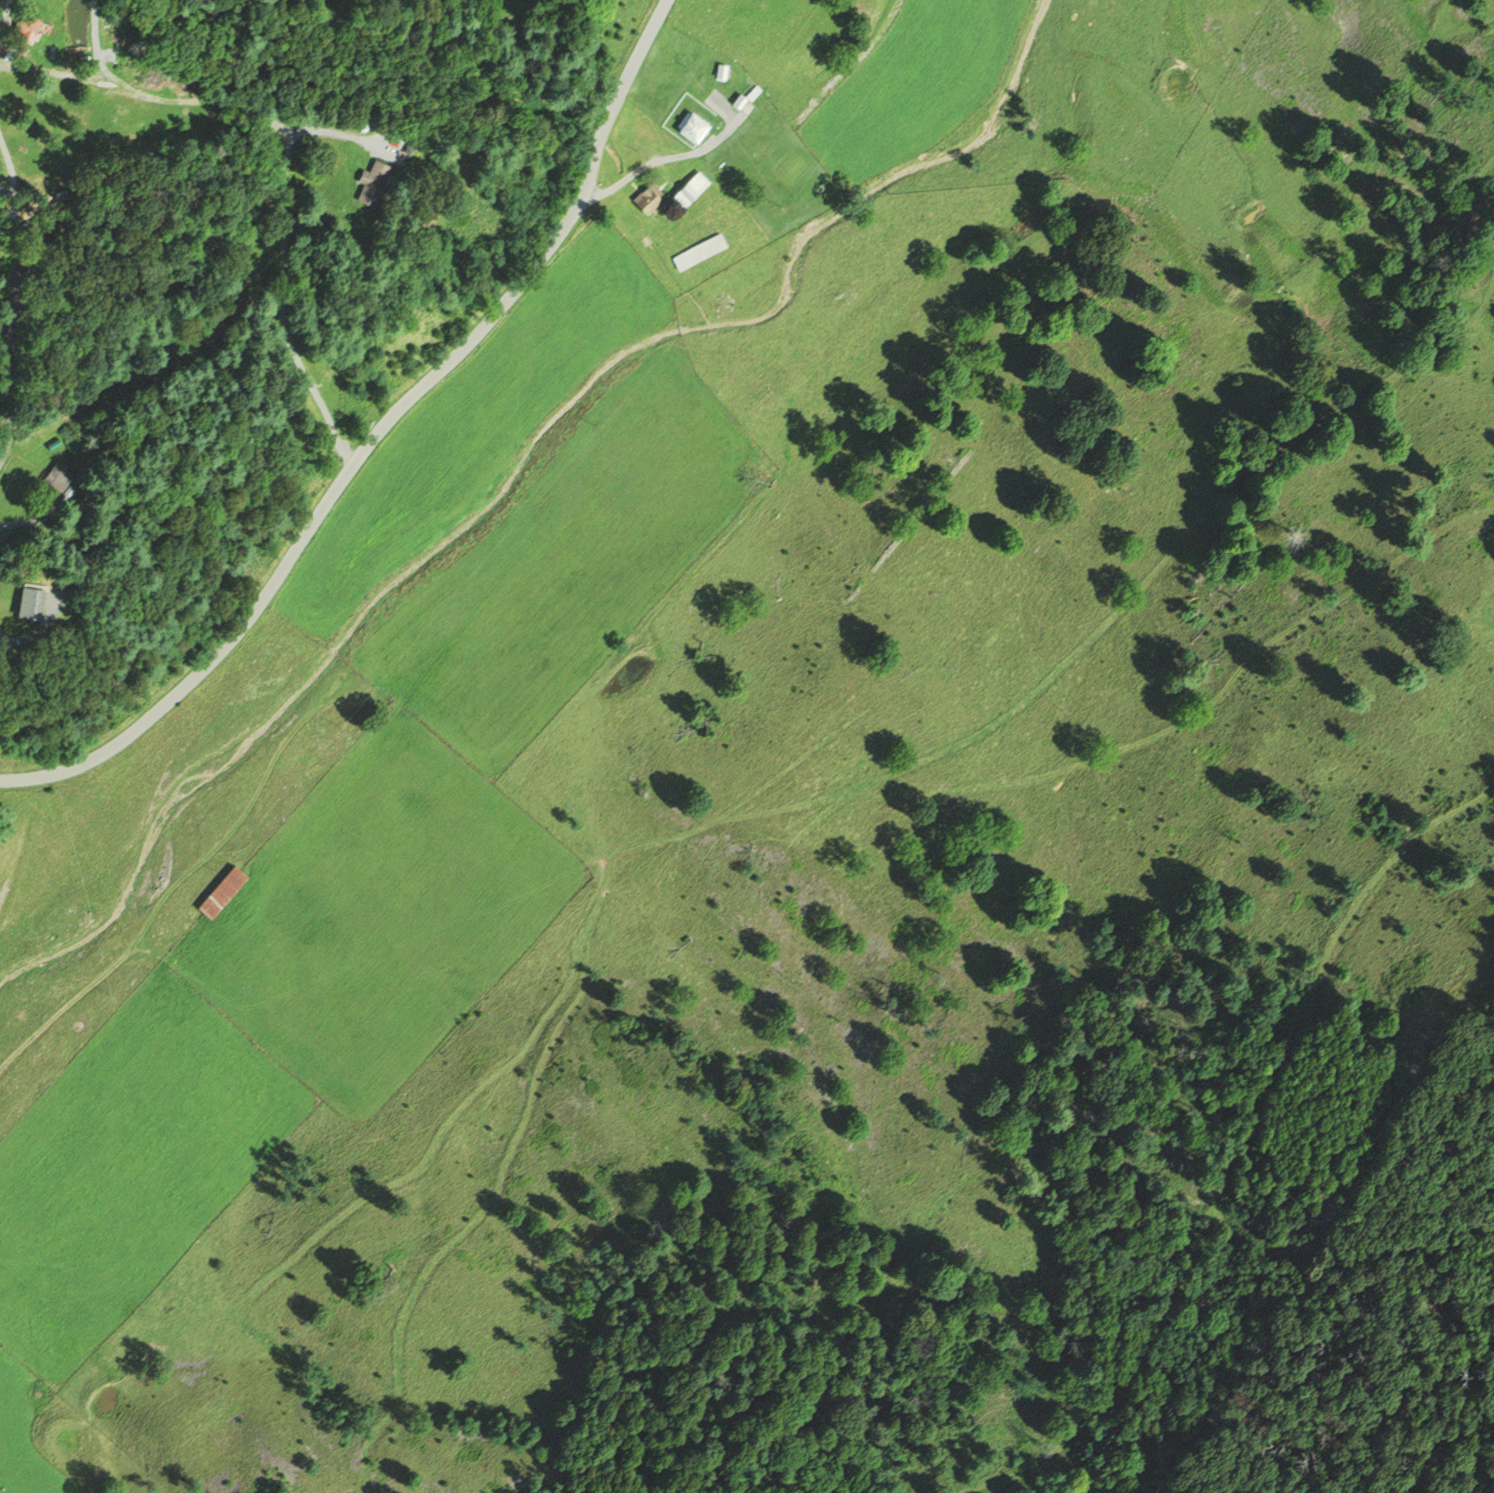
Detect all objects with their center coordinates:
road: (96, 43)
building: (718, 71)
building: (734, 100)
building: (690, 127)
road: (288, 157)
building: (381, 182)
building: (688, 189)
building: (645, 197)
building: (697, 252)
road: (15, 324)
road: (374, 431)
building: (55, 481)
road: (29, 522)
building: (24, 604)
building: (218, 893)
road: (131, 944)

